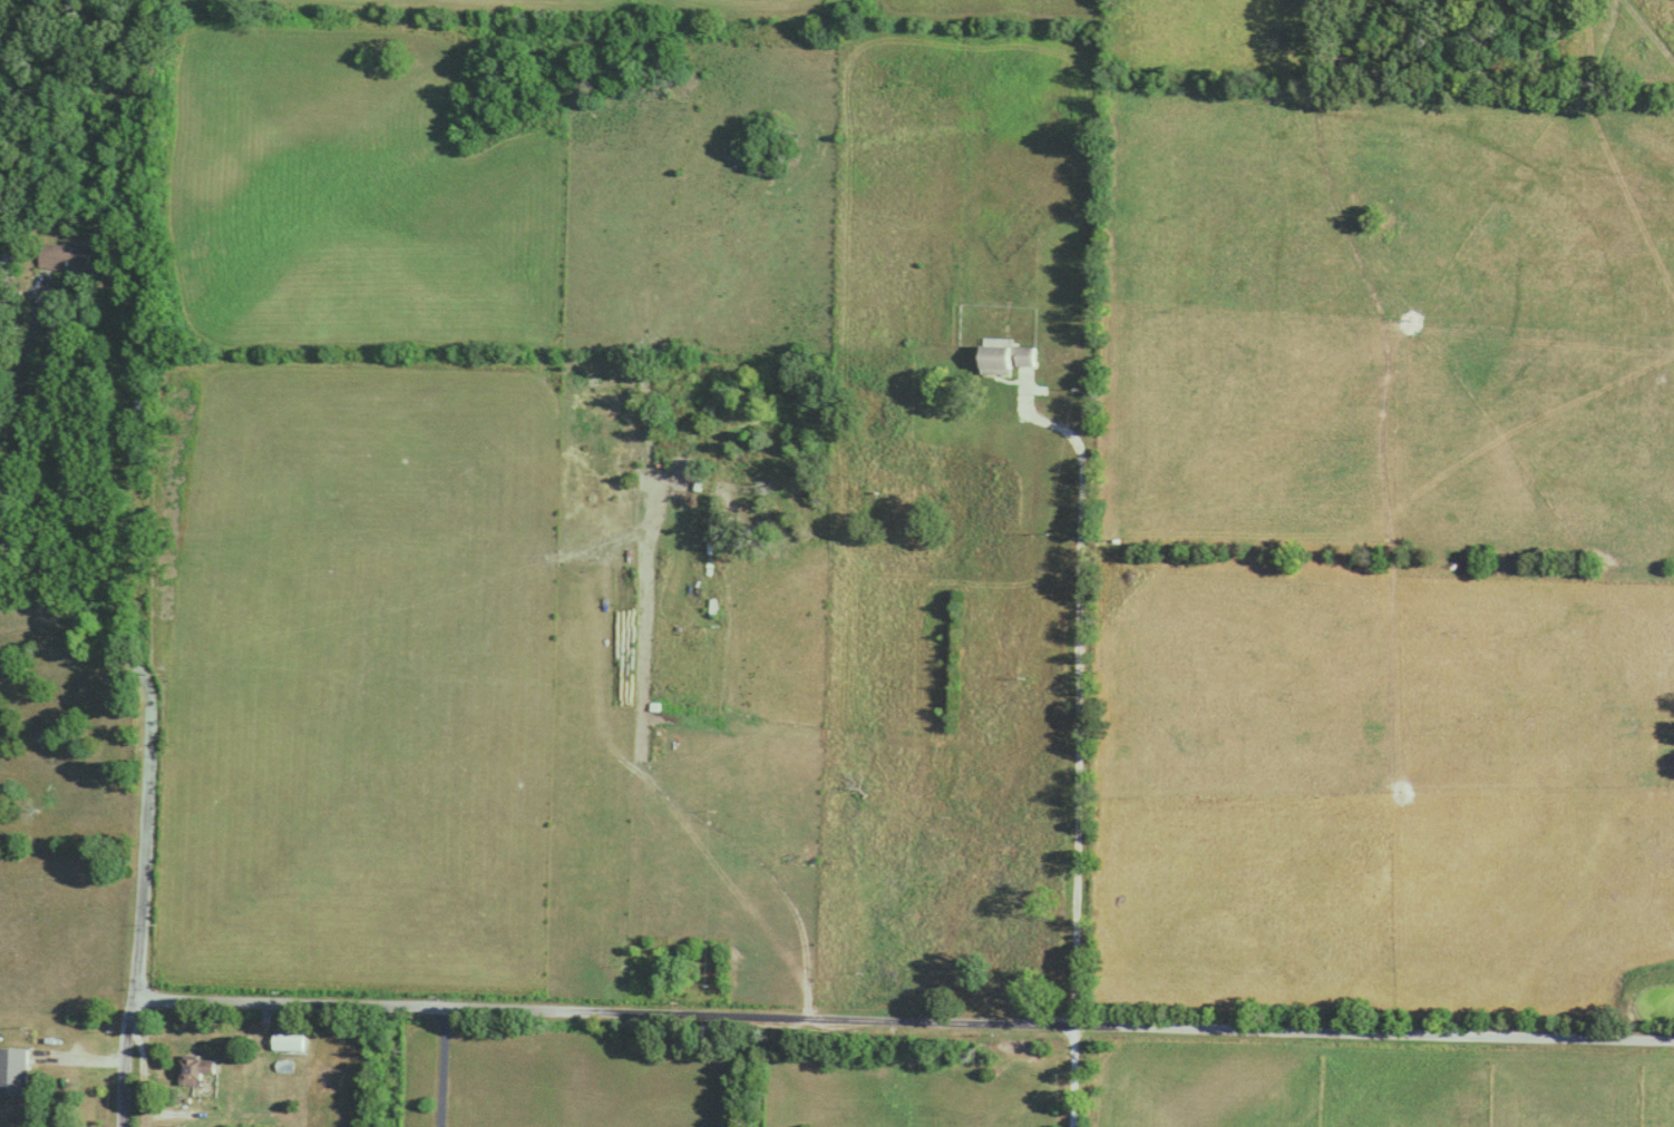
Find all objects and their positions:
building: (71, 257)
building: (146, 361)
building: (1005, 361)
road: (23, 405)
building: (142, 408)
building: (1041, 688)
road: (1078, 694)
road: (148, 798)
building: (1020, 845)
building: (960, 847)
building: (1015, 962)
road: (905, 1025)
building: (290, 1042)
building: (197, 1068)
road: (445, 1069)
building: (13, 1071)
road: (1072, 1079)

